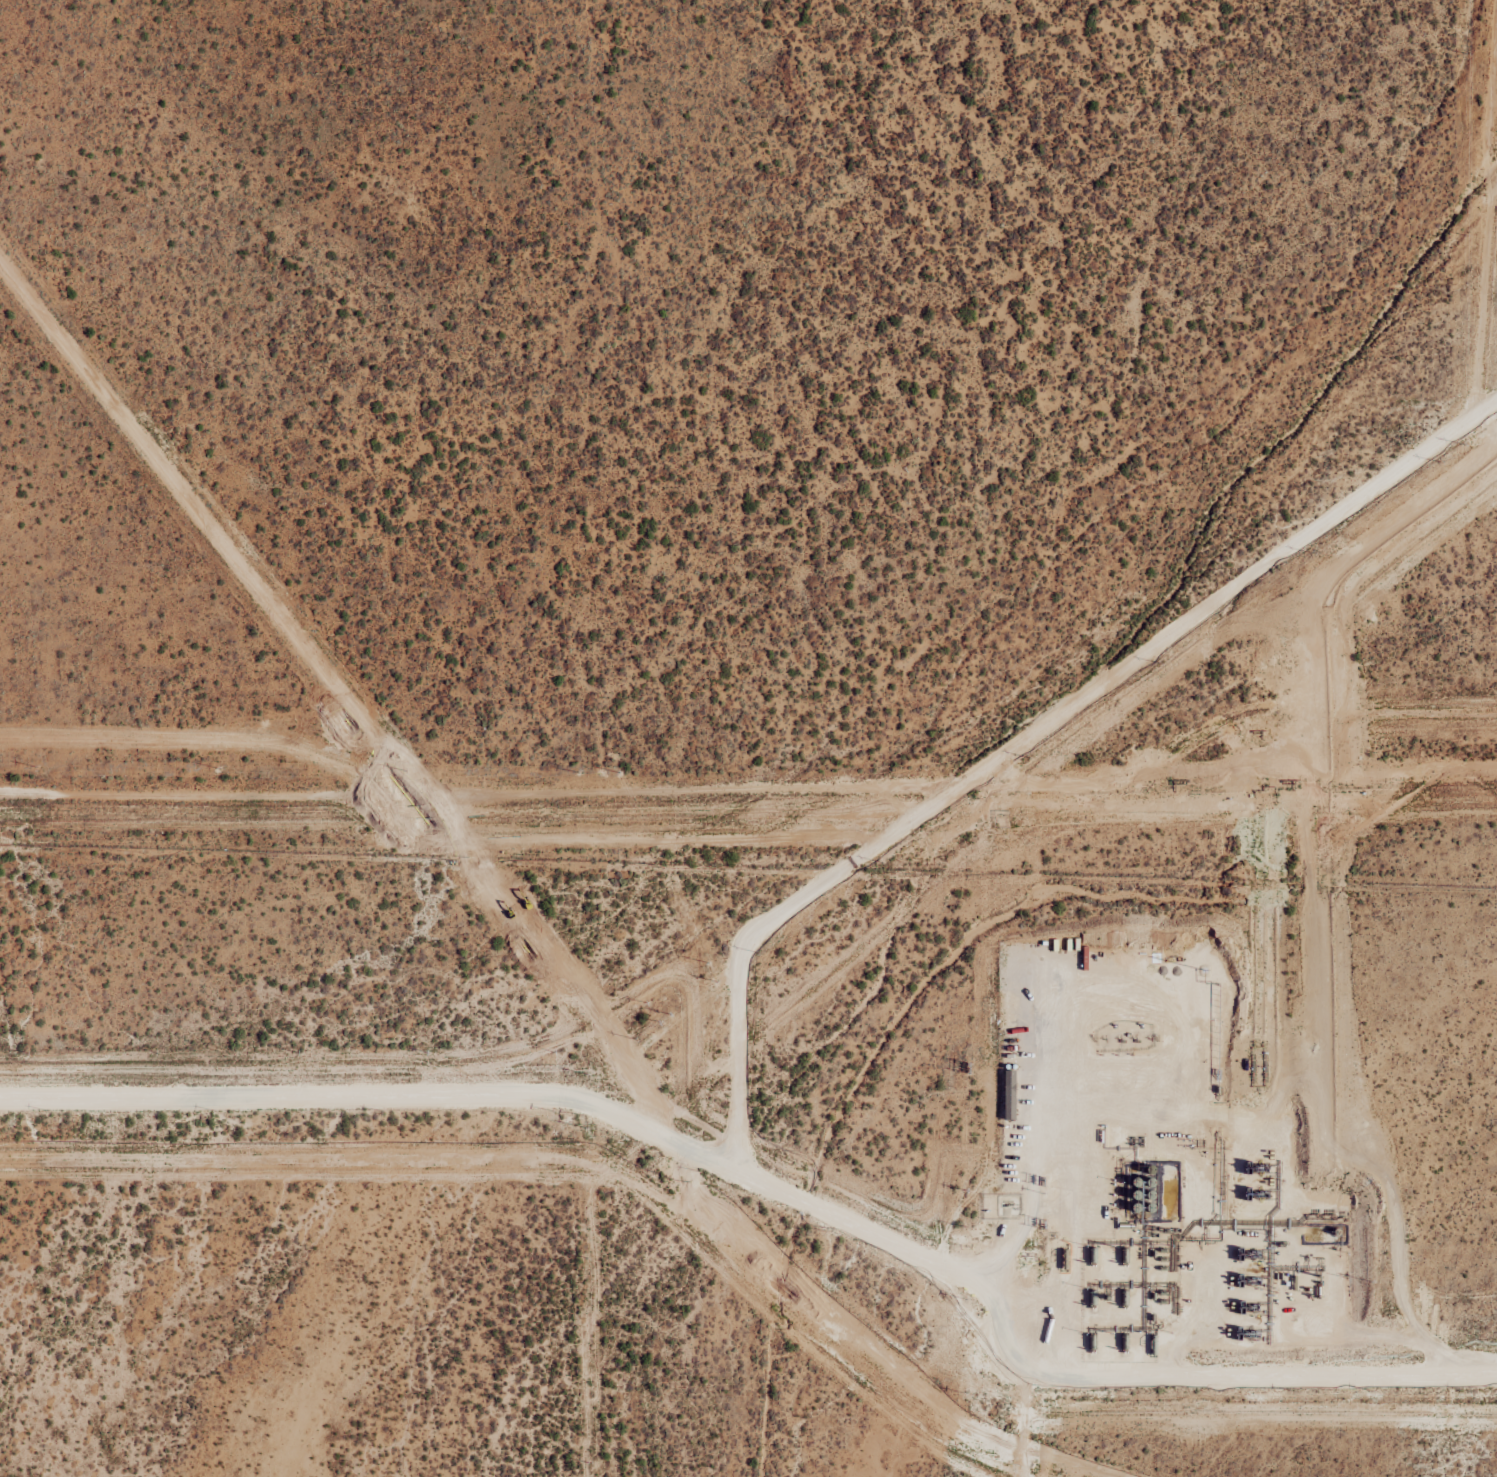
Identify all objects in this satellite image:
road: (1038, 737)
petroleum well: (1105, 1038)
petroleum well: (1120, 1038)
petroleum well: (1136, 1038)
petroleum well: (1151, 1038)
road: (578, 1085)
road: (1099, 1108)
road: (1441, 1367)
road: (1207, 1370)

